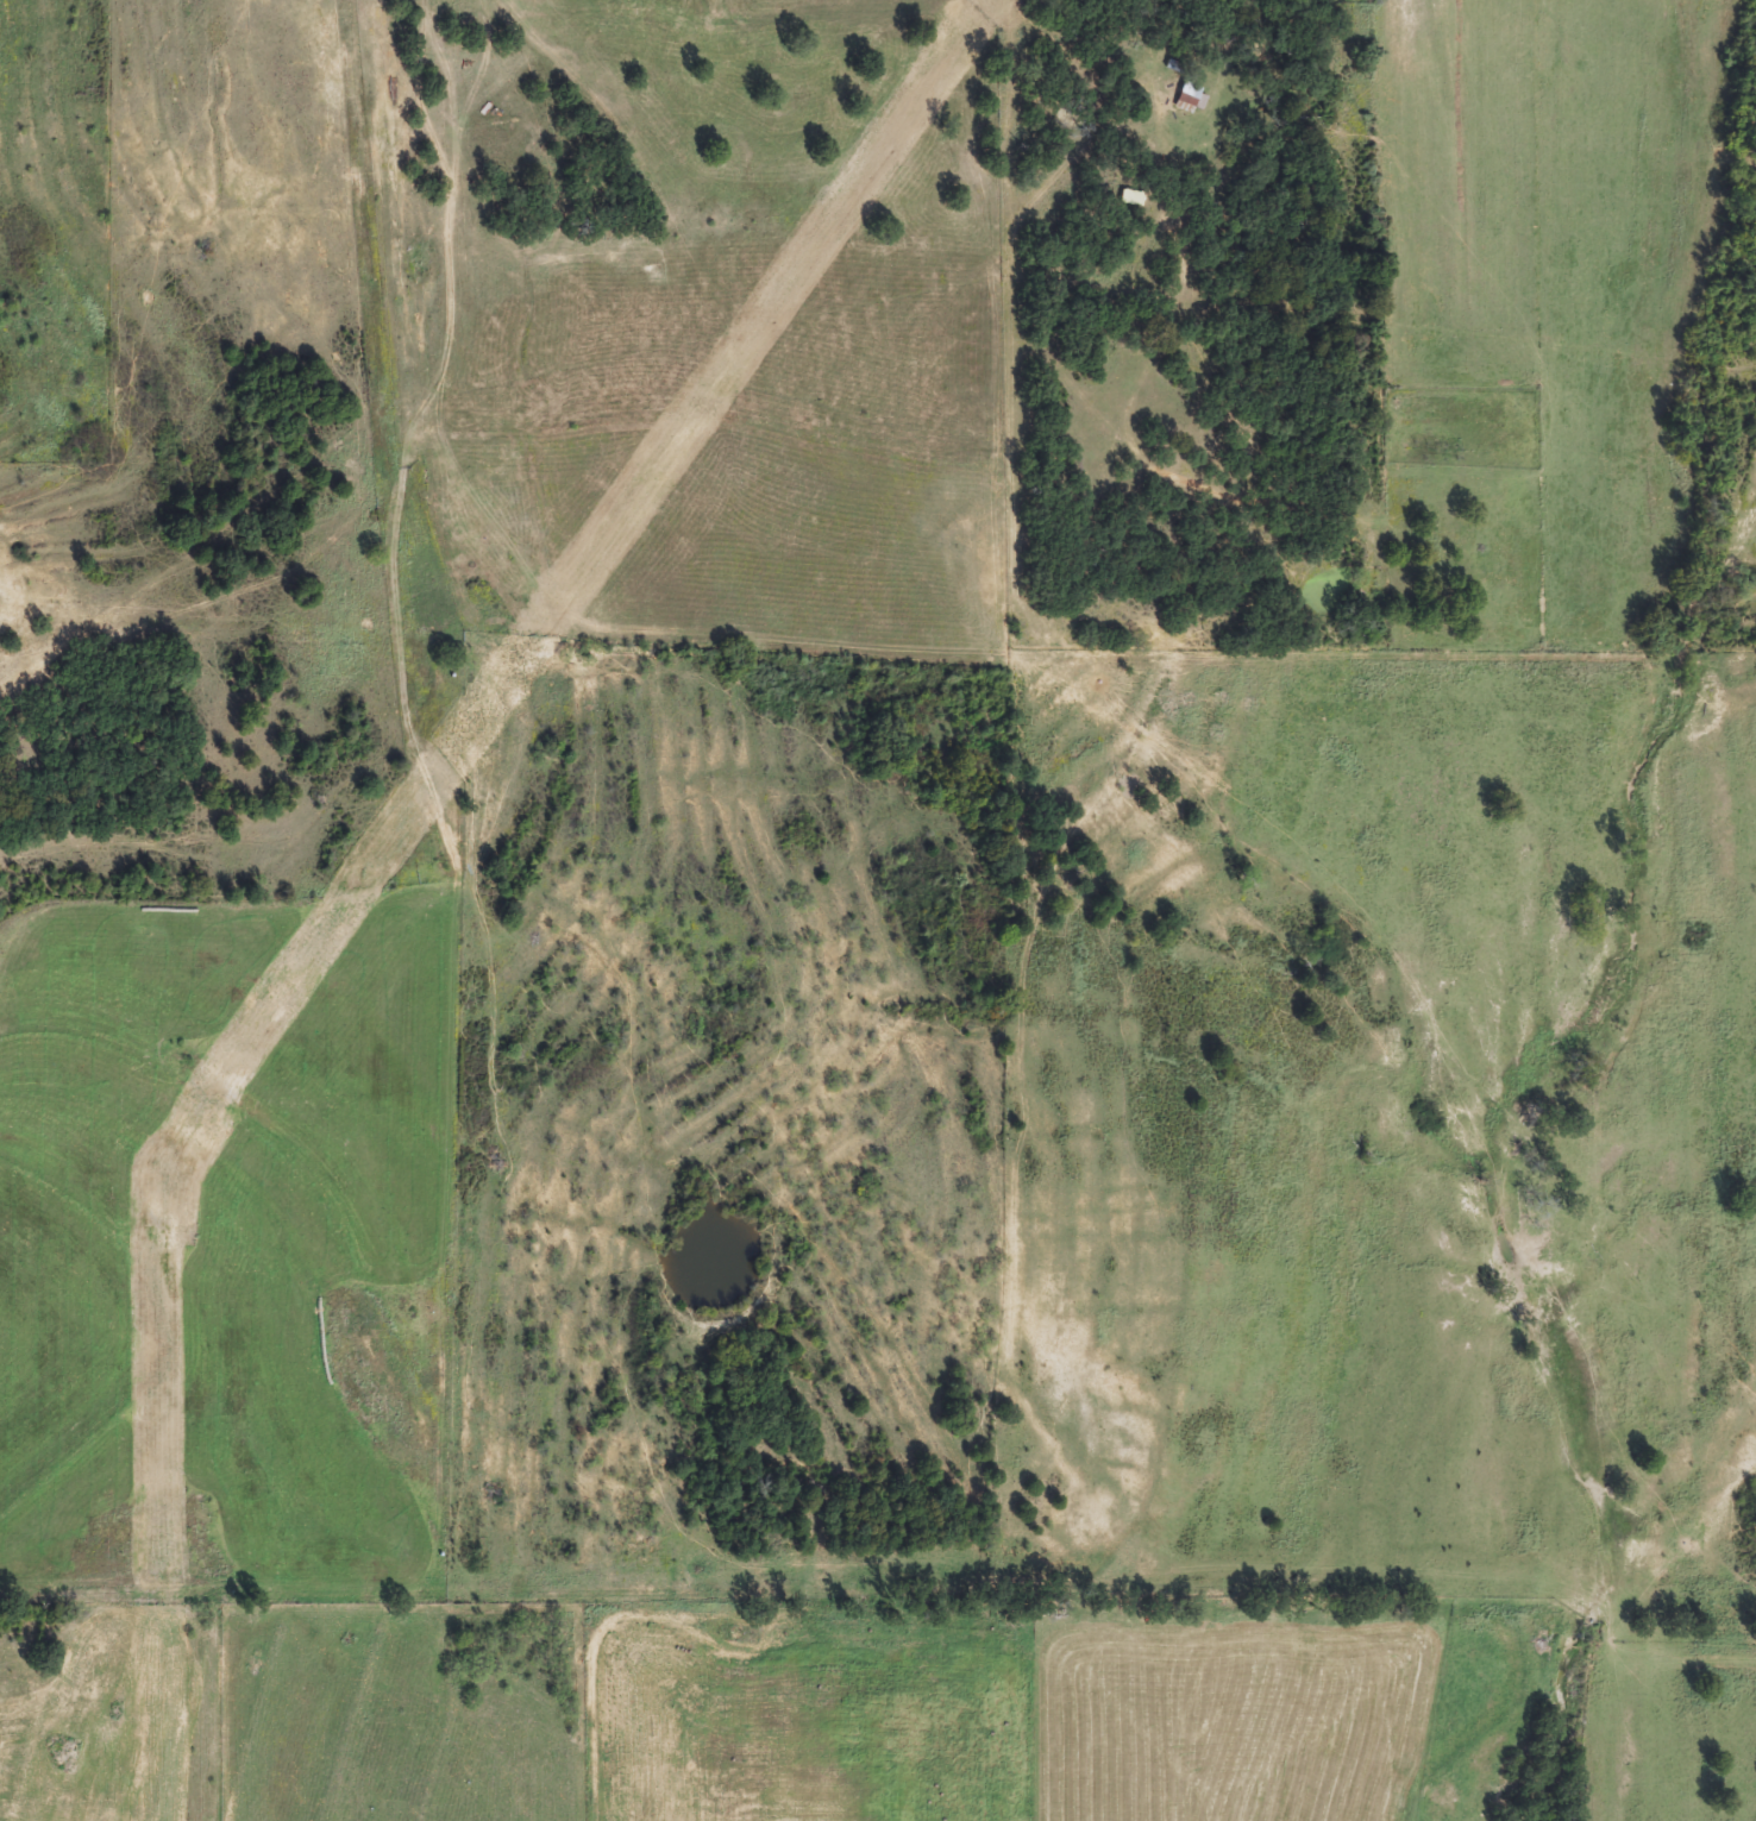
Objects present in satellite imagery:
building: (1190, 100)

